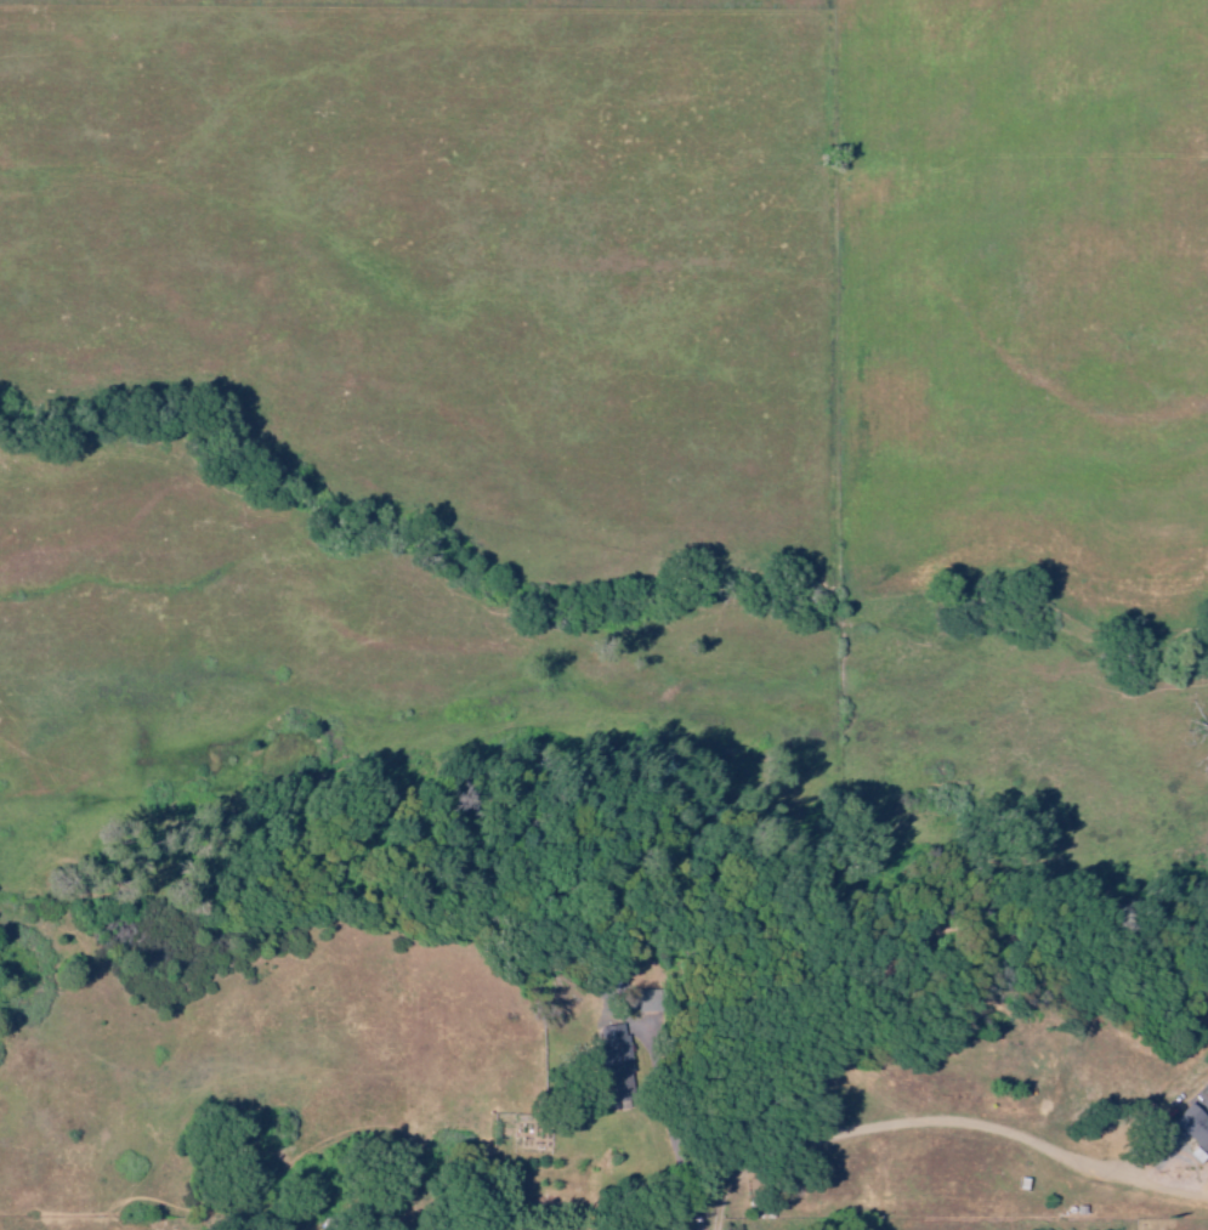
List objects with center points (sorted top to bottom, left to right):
building: (1191, 1129)

